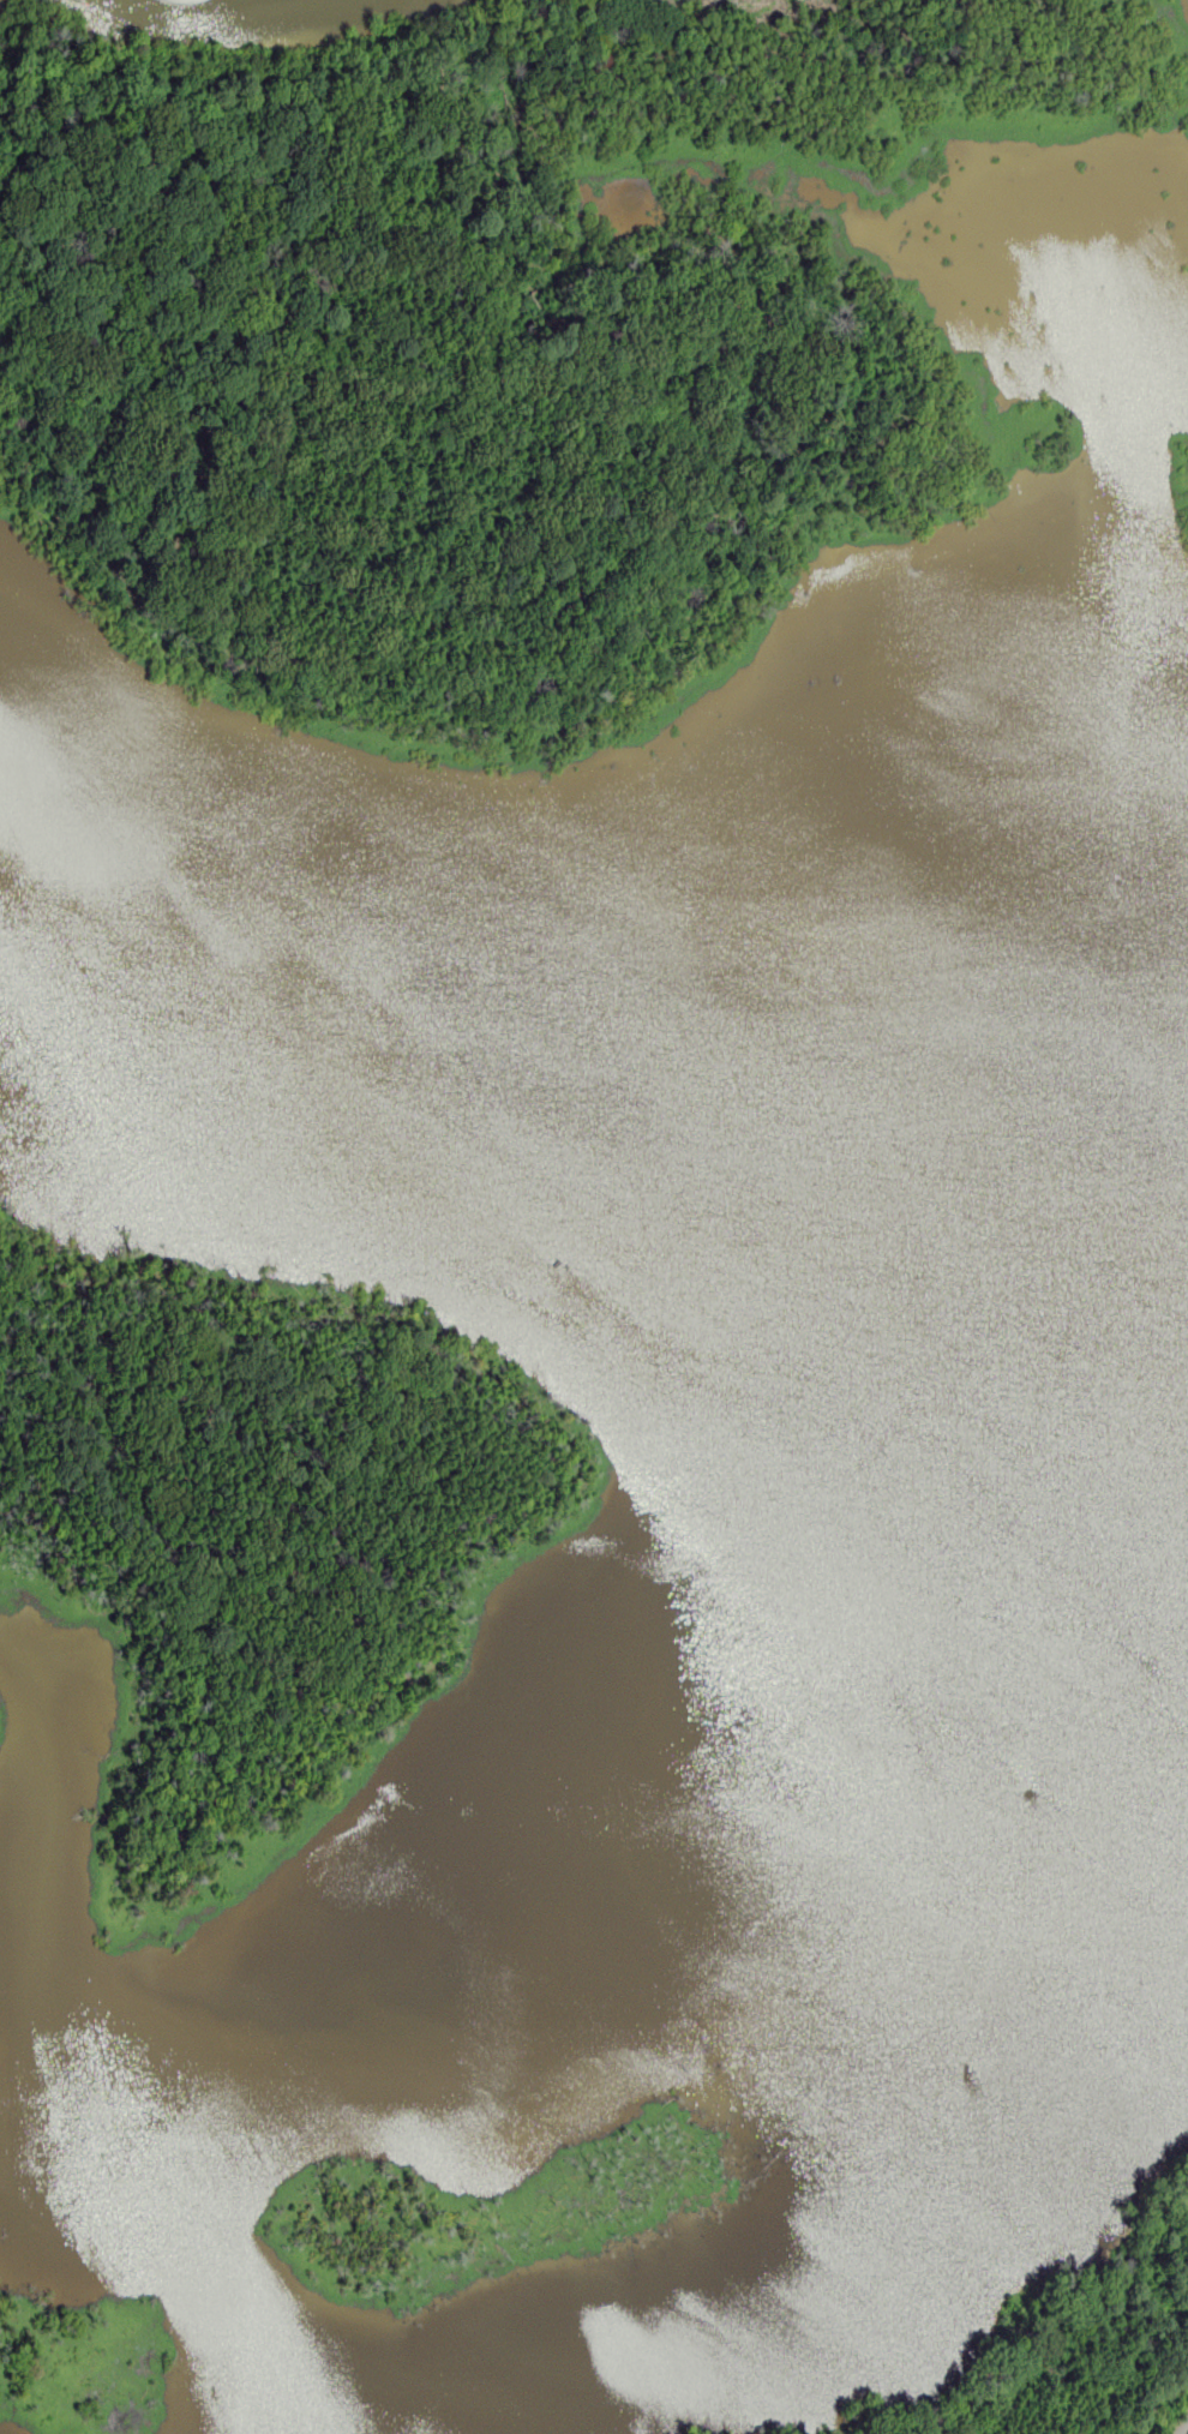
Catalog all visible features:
river: (226, 34)
railway: (1187, 2433)

